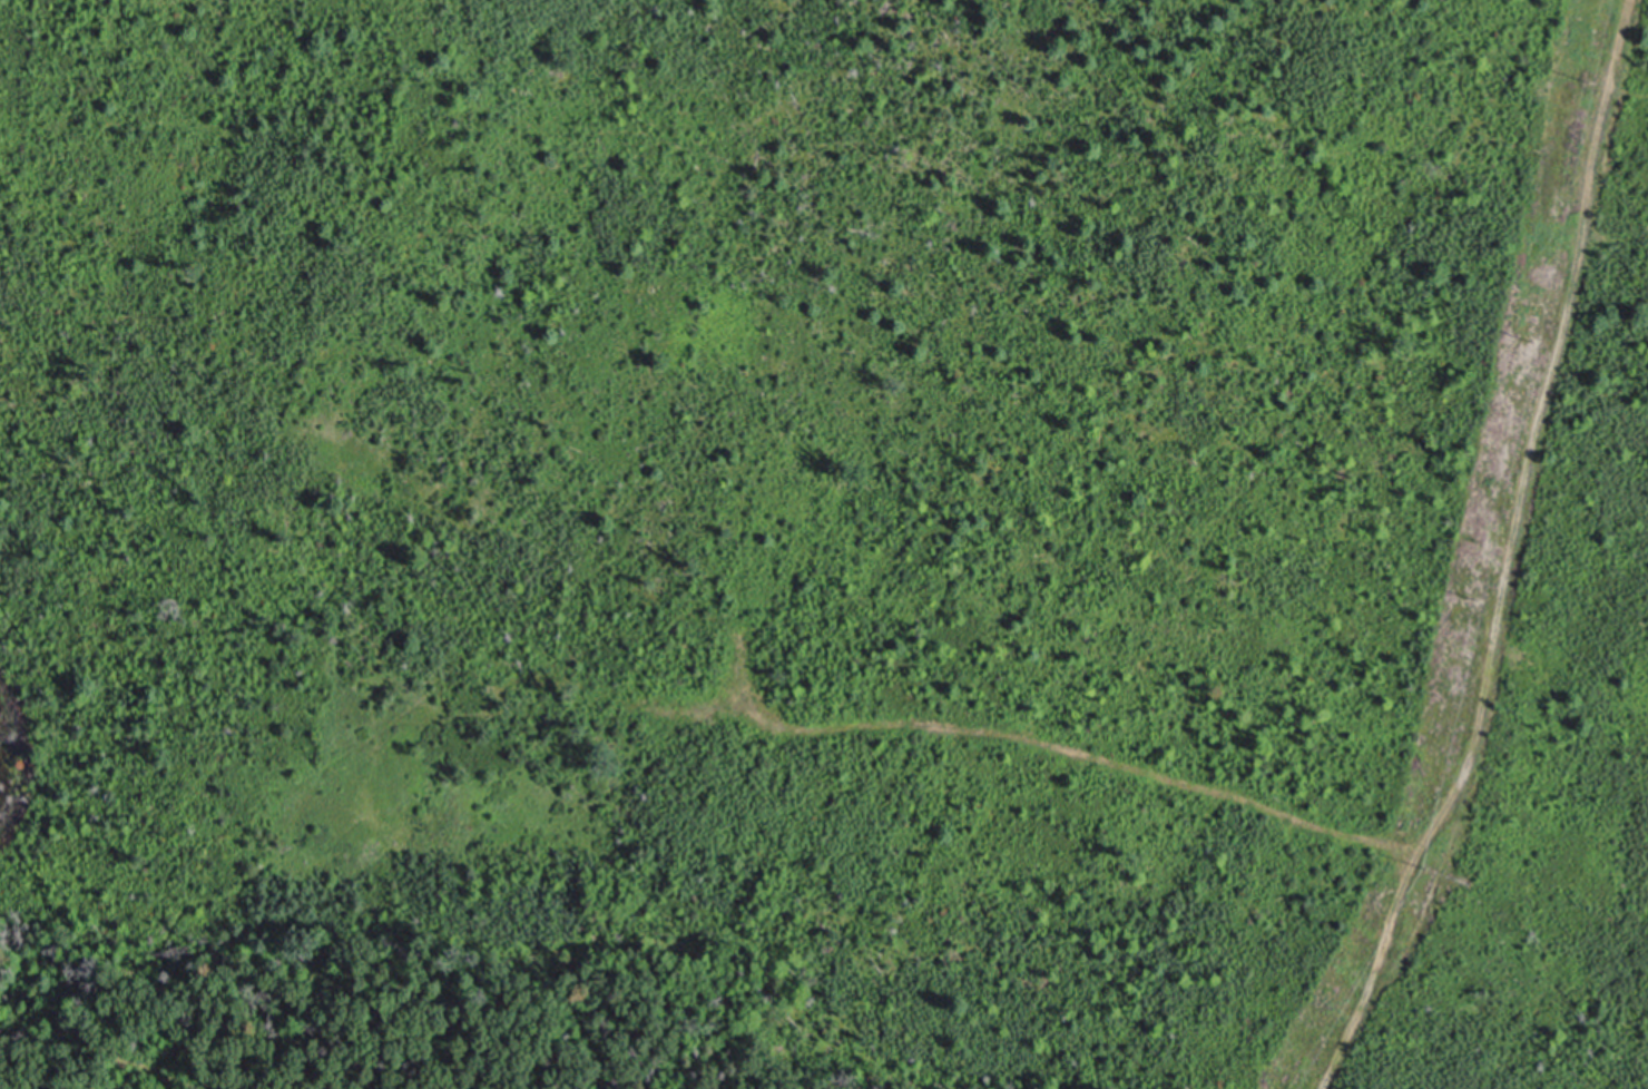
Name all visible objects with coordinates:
power tower: (1595, 81)
power tower: (1538, 342)
power tower: (1485, 599)
power tower: (1429, 872)

